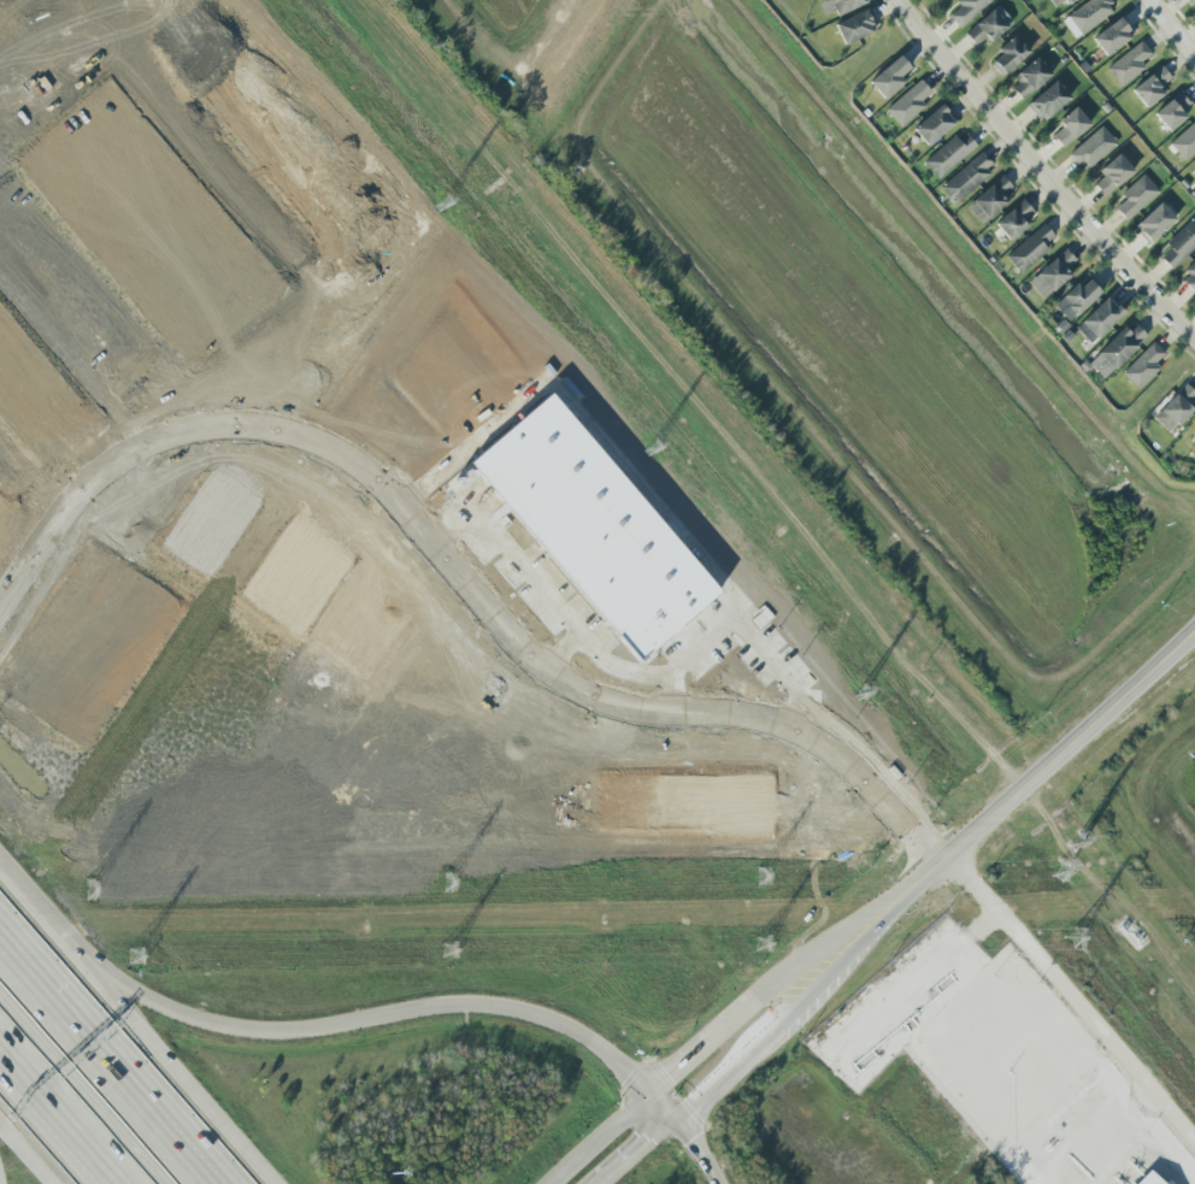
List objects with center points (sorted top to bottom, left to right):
building: (1190, 0)
building: (1058, 2)
building: (837, 5)
building: (966, 10)
building: (1085, 16)
building: (855, 26)
road: (1173, 26)
building: (985, 28)
building: (1112, 36)
building: (1007, 54)
building: (1128, 64)
building: (888, 77)
building: (1028, 78)
building: (1150, 87)
building: (1048, 101)
building: (907, 104)
building: (1172, 110)
building: (932, 124)
building: (1070, 126)
building: (1185, 142)
building: (1093, 147)
building: (949, 153)
building: (1193, 171)
road: (1042, 172)
building: (1112, 173)
building: (966, 177)
building: (1135, 196)
building: (989, 199)
power tower: (441, 204)
road: (206, 207)
building: (1013, 219)
building: (1153, 223)
building: (1179, 243)
building: (1029, 248)
building: (1053, 272)
building: (1190, 277)
road: (65, 294)
building: (1077, 299)
building: (1097, 319)
building: (1115, 349)
building: (1143, 365)
building: (1175, 407)
building: (1193, 437)
power tower: (651, 448)
road: (196, 464)
road: (269, 470)
road: (625, 473)
road: (329, 488)
road: (88, 489)
road: (130, 497)
road: (352, 534)
road: (361, 562)
road: (543, 595)
road: (563, 652)
road: (687, 659)
road: (557, 675)
power tower: (860, 693)
road: (1067, 746)
road: (760, 755)
road: (796, 812)
power tower: (1076, 841)
power tower: (767, 868)
power tower: (1061, 868)
power tower: (93, 889)
power tower: (454, 893)
road: (773, 893)
road: (847, 927)
road: (864, 941)
power tower: (1072, 941)
power tower: (766, 944)
power tower: (137, 955)
power tower: (454, 959)
road: (1071, 1003)
road: (163, 1006)
road: (504, 1009)
road: (137, 1027)
road: (702, 1049)
road: (107, 1054)
road: (105, 1065)
road: (728, 1072)
traffic signals: (671, 1078)
road: (76, 1096)
road: (659, 1109)
road: (54, 1123)
road: (1131, 1136)
traffic signals: (648, 1139)
road: (601, 1141)
traffic signals: (688, 1143)
road: (27, 1151)
road: (632, 1151)
road: (695, 1151)
building: (1148, 1179)

